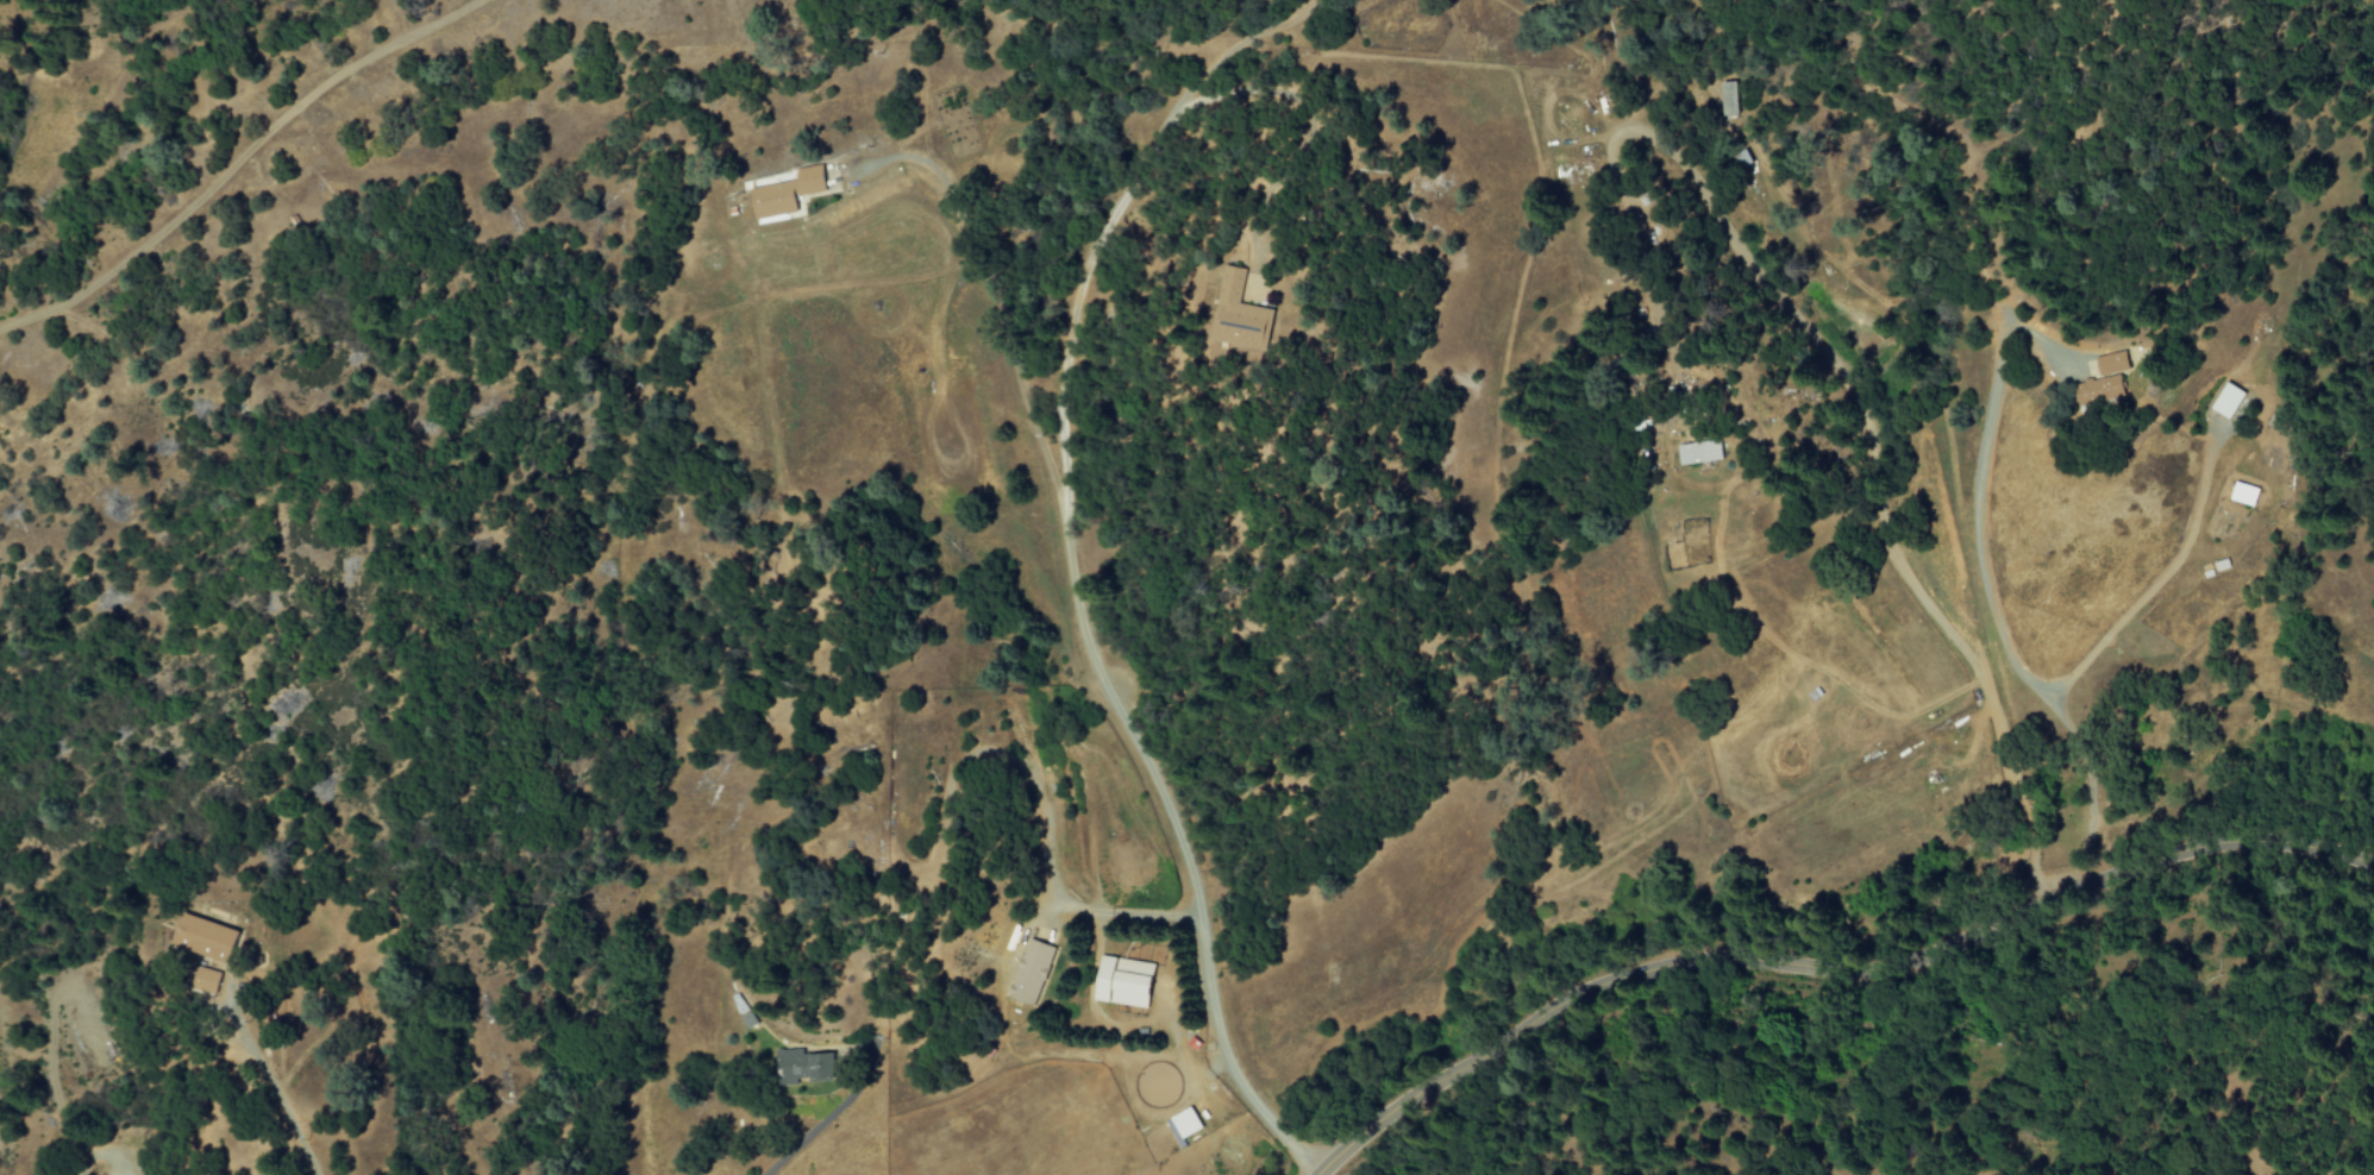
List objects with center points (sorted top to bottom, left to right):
building: (1728, 99)
road: (234, 162)
building: (784, 194)
building: (1232, 314)
road: (1833, 357)
building: (2110, 364)
building: (2098, 390)
building: (2225, 401)
building: (1695, 453)
building: (2242, 495)
road: (2153, 590)
road: (1994, 610)
road: (1094, 656)
road: (1065, 907)
building: (200, 937)
road: (1827, 968)
building: (1029, 973)
building: (198, 981)
building: (1122, 982)
building: (746, 1020)
building: (798, 1068)
building: (1182, 1126)
road: (808, 1132)

